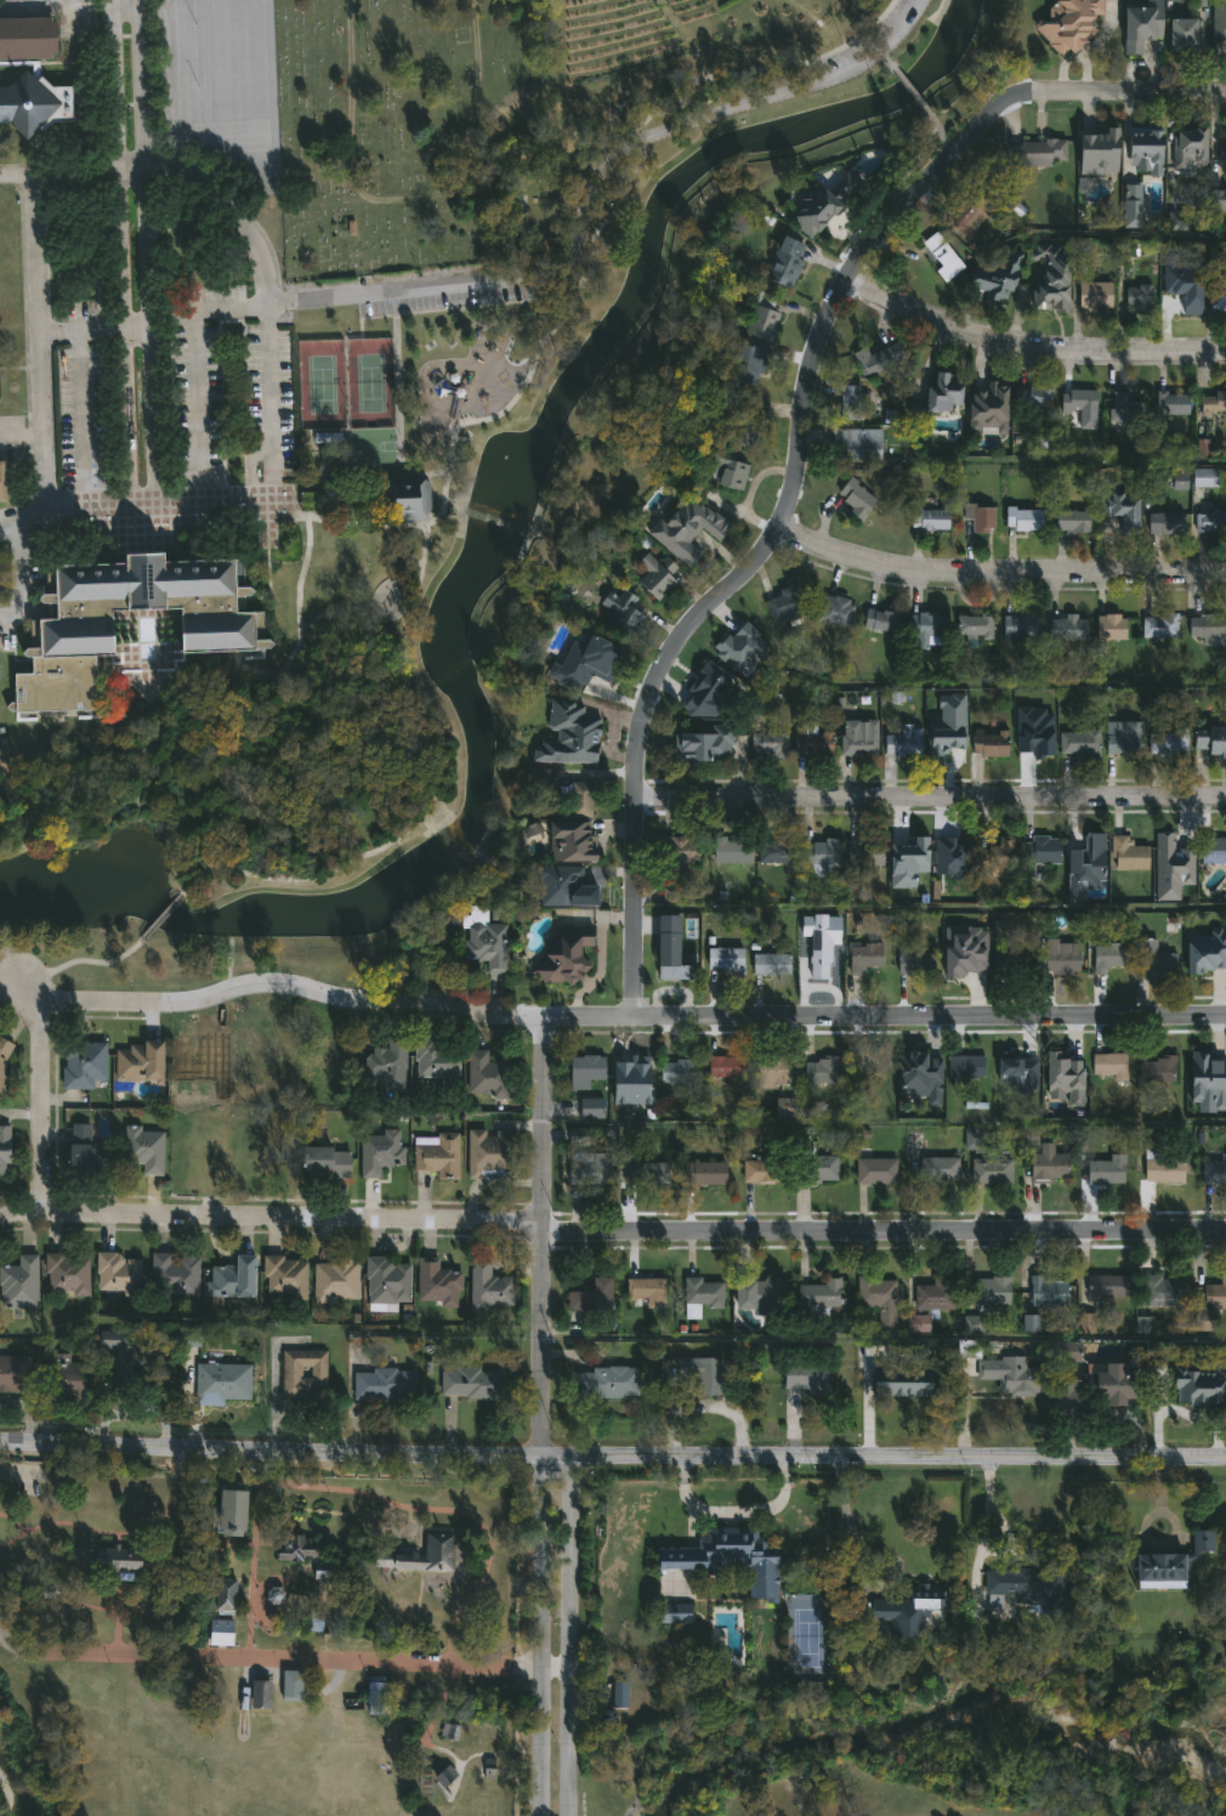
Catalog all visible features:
parking lot: (50, 4)
road: (75, 4)
road: (180, 5)
road: (55, 8)
road: (158, 11)
building: (1071, 22)
building: (1140, 23)
building: (1219, 23)
building: (1185, 34)
building: (28, 38)
parking lot: (865, 40)
street lamp: (845, 50)
street lamp: (887, 51)
road: (884, 59)
road: (223, 68)
street lamp: (815, 76)
street lamp: (788, 80)
road: (113, 84)
road: (140, 84)
parking lot: (216, 85)
road: (907, 89)
building: (35, 103)
road: (666, 103)
road: (925, 112)
road: (935, 123)
park: (404, 130)
street lamp: (953, 136)
road: (946, 138)
park: (566, 144)
building: (1188, 147)
street lamp: (942, 148)
building: (1099, 151)
building: (1145, 151)
building: (1221, 151)
building: (1037, 153)
road: (235, 158)
road: (189, 172)
road: (15, 175)
road: (589, 185)
road: (884, 191)
parking lot: (578, 200)
building: (824, 200)
building: (1218, 200)
building: (1130, 205)
park: (537, 206)
building: (967, 209)
street lamp: (600, 221)
building: (938, 249)
building: (782, 259)
building: (1185, 274)
building: (997, 277)
building: (1051, 279)
building: (1094, 295)
building: (1137, 296)
building: (1216, 296)
parking lot: (438, 303)
street lamp: (574, 311)
building: (761, 316)
road: (92, 330)
road: (124, 333)
road: (149, 335)
street lamp: (1108, 341)
road: (1026, 342)
building: (876, 358)
road: (39, 363)
road: (195, 363)
park: (369, 384)
park: (320, 385)
street lamp: (530, 387)
parking lot: (218, 390)
road: (267, 395)
building: (938, 395)
building: (1031, 397)
road: (399, 399)
building: (1077, 399)
building: (850, 403)
building: (1213, 403)
building: (1125, 404)
building: (1171, 404)
building: (743, 405)
building: (987, 408)
street lamp: (418, 414)
road: (84, 415)
parking lot: (84, 420)
street lamp: (475, 429)
road: (798, 435)
parking lot: (16, 436)
road: (21, 439)
building: (855, 444)
park: (444, 446)
park: (354, 452)
fountain: (510, 464)
building: (723, 471)
building: (335, 473)
street lamp: (124, 477)
building: (1203, 477)
building: (2, 482)
road: (240, 496)
building: (853, 498)
road: (176, 499)
road: (96, 500)
building: (398, 503)
building: (1122, 507)
road: (455, 511)
street lamp: (297, 513)
street lamp: (222, 516)
street lamp: (273, 516)
street lamp: (185, 517)
street lamp: (202, 518)
building: (980, 518)
street lamp: (63, 520)
street lamp: (74, 520)
street lamp: (164, 520)
building: (929, 520)
building: (1022, 520)
street lamp: (85, 521)
street lamp: (123, 521)
building: (1071, 521)
building: (1164, 522)
building: (1210, 522)
road: (363, 523)
street lamp: (134, 524)
street lamp: (151, 524)
road: (277, 528)
street lamp: (299, 528)
building: (686, 528)
street lamp: (273, 544)
street lamp: (435, 544)
street lamp: (947, 551)
street lamp: (413, 555)
flagpole: (113, 558)
road: (995, 572)
road: (23, 574)
building: (653, 577)
parking lot: (21, 580)
street lamp: (1177, 592)
building: (785, 603)
building: (835, 609)
building: (620, 612)
road: (177, 615)
building: (878, 620)
building: (1111, 626)
building: (1158, 626)
building: (974, 628)
building: (1020, 628)
building: (1067, 628)
building: (926, 629)
building: (1207, 629)
building: (218, 630)
building: (739, 646)
building: (584, 656)
building: (605, 669)
road: (291, 686)
building: (716, 692)
road: (136, 709)
building: (947, 725)
building: (568, 736)
building: (857, 738)
building: (1122, 738)
building: (1035, 739)
building: (811, 740)
building: (902, 740)
building: (1210, 740)
building: (988, 742)
building: (1167, 742)
building: (1078, 743)
building: (702, 744)
building: (767, 744)
road: (348, 782)
road: (425, 794)
road: (927, 796)
building: (580, 799)
building: (572, 842)
building: (776, 849)
building: (731, 850)
building: (681, 851)
building: (949, 851)
building: (1041, 851)
building: (1213, 851)
building: (864, 852)
building: (822, 853)
building: (995, 853)
building: (1126, 855)
building: (909, 856)
building: (1085, 863)
building: (1173, 867)
road: (203, 876)
building: (571, 885)
road: (164, 914)
building: (819, 938)
building: (487, 941)
building: (669, 944)
building: (964, 946)
building: (1207, 952)
building: (566, 955)
building: (862, 957)
building: (1061, 957)
road: (601, 958)
building: (1108, 958)
building: (1153, 959)
road: (83, 960)
building: (723, 960)
building: (1012, 960)
building: (770, 964)
building: (915, 964)
road: (819, 988)
road: (317, 992)
road: (107, 1000)
road: (827, 1016)
street lamp: (163, 1018)
street lamp: (24, 1029)
building: (4, 1059)
building: (137, 1061)
building: (435, 1061)
building: (386, 1065)
building: (83, 1066)
building: (1107, 1066)
building: (629, 1067)
building: (723, 1067)
building: (965, 1067)
building: (1011, 1067)
building: (870, 1069)
building: (1156, 1069)
building: (818, 1071)
building: (584, 1072)
building: (675, 1072)
building: (772, 1072)
building: (486, 1076)
building: (921, 1076)
building: (1063, 1079)
building: (1207, 1080)
road: (39, 1106)
building: (590, 1108)
road: (537, 1118)
building: (80, 1148)
building: (142, 1150)
building: (4, 1151)
building: (488, 1152)
building: (378, 1153)
building: (435, 1154)
building: (244, 1158)
building: (324, 1163)
building: (1048, 1164)
building: (586, 1168)
building: (813, 1169)
building: (937, 1170)
building: (1162, 1170)
building: (761, 1171)
building: (1106, 1171)
building: (1214, 1171)
building: (642, 1173)
building: (874, 1173)
building: (991, 1173)
building: (703, 1175)
road: (267, 1216)
road: (879, 1235)
building: (117, 1273)
building: (67, 1275)
building: (174, 1276)
building: (284, 1276)
building: (232, 1278)
building: (334, 1279)
building: (386, 1281)
building: (436, 1283)
building: (18, 1284)
building: (1107, 1287)
building: (488, 1288)
building: (991, 1292)
building: (1046, 1292)
building: (1162, 1292)
building: (645, 1293)
building: (933, 1294)
building: (590, 1295)
building: (699, 1295)
building: (756, 1295)
building: (819, 1295)
building: (878, 1299)
building: (1211, 1304)
road: (538, 1338)
building: (767, 1364)
building: (134, 1370)
building: (699, 1370)
building: (302, 1372)
building: (211, 1373)
building: (15, 1374)
building: (901, 1374)
building: (1012, 1375)
building: (805, 1377)
building: (1198, 1378)
building: (70, 1379)
building: (605, 1383)
building: (382, 1384)
building: (469, 1384)
building: (1101, 1385)
road: (269, 1448)
road: (882, 1454)
parking lot: (25, 1480)
road: (410, 1508)
building: (233, 1510)
road: (734, 1514)
road: (848, 1521)
road: (13, 1522)
road: (180, 1540)
building: (1201, 1542)
building: (296, 1550)
building: (437, 1550)
building: (78, 1559)
building: (726, 1559)
building: (118, 1560)
road: (228, 1561)
building: (1160, 1571)
building: (1017, 1585)
building: (225, 1596)
building: (274, 1596)
building: (907, 1611)
building: (674, 1613)
road: (566, 1629)
building: (220, 1633)
road: (540, 1635)
park: (806, 1635)
park: (257, 1642)
road: (254, 1658)
road: (527, 1665)
building: (291, 1687)
building: (618, 1695)
building: (259, 1697)
building: (376, 1697)
railway: (243, 1704)
building: (447, 1731)
building: (444, 1777)

